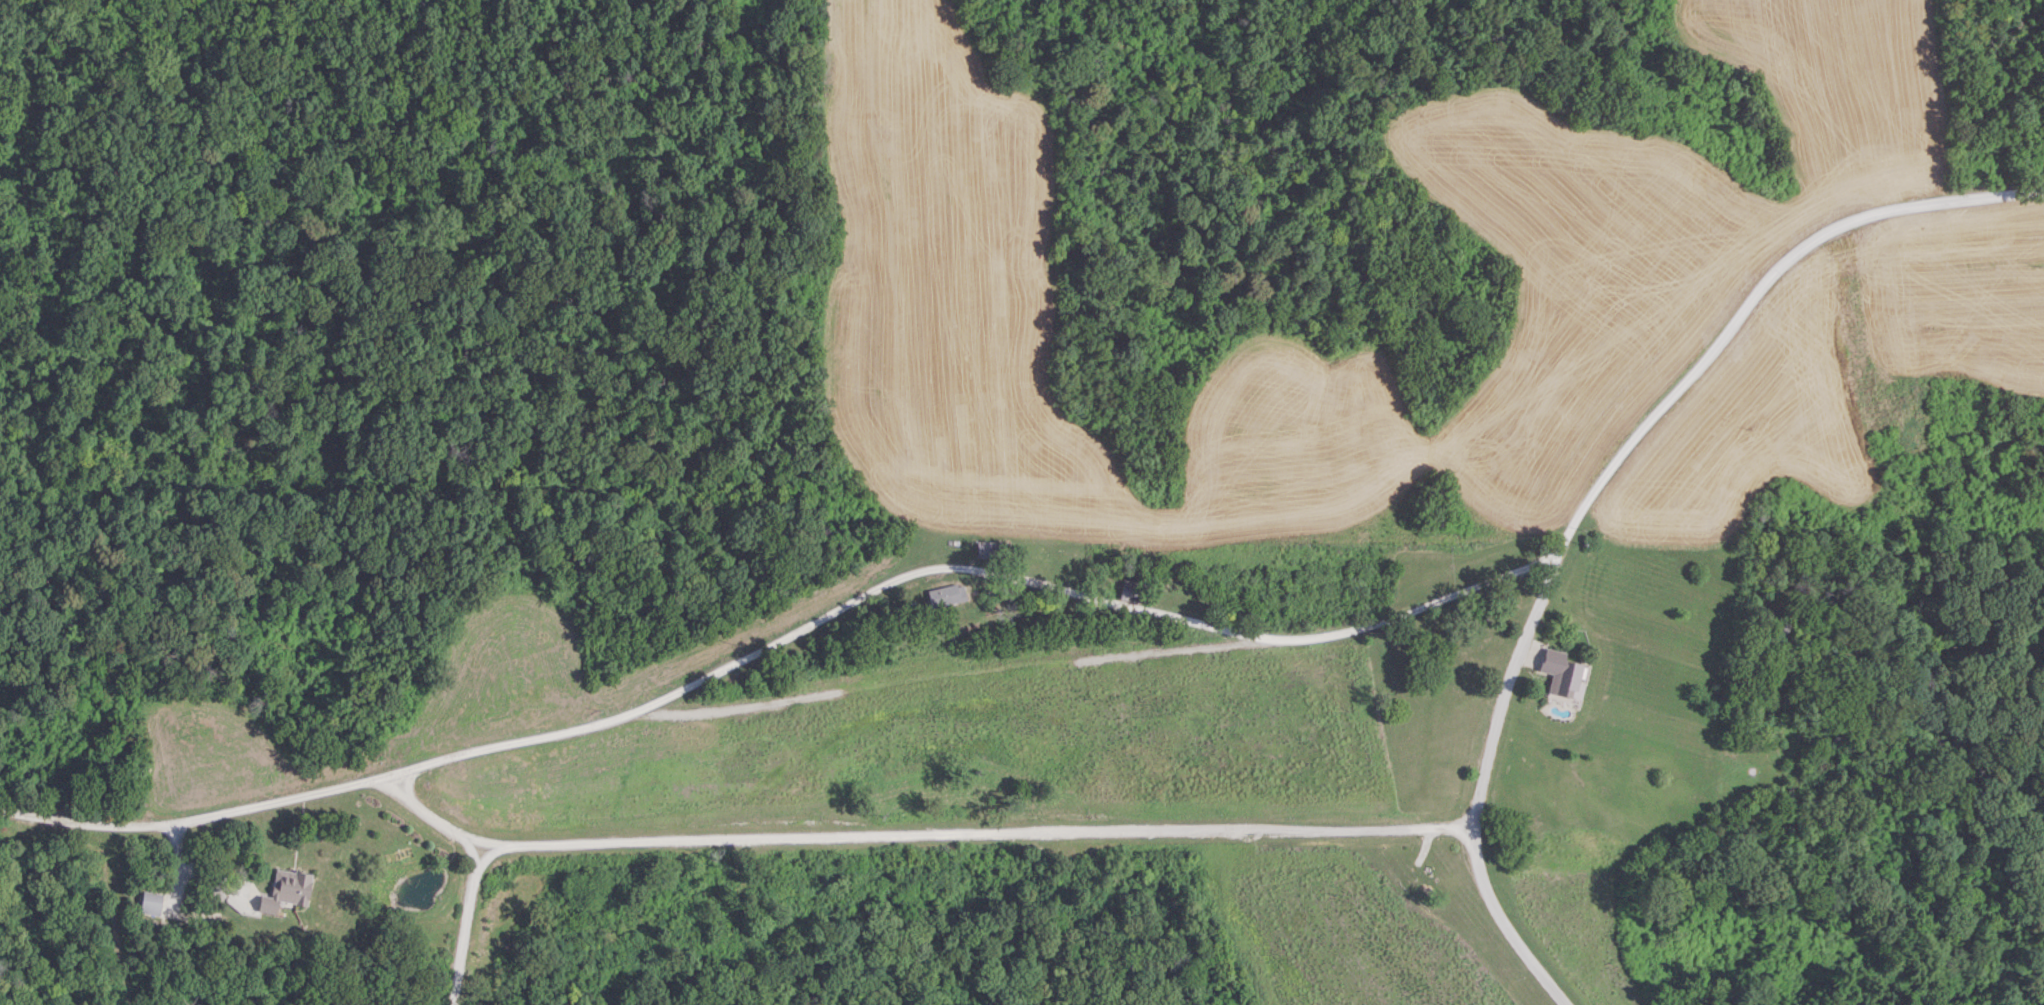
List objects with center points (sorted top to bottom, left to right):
building: (986, 550)
building: (1129, 591)
building: (945, 596)
road: (1084, 596)
building: (1774, 623)
road: (948, 668)
building: (1560, 675)
road: (1479, 787)
road: (915, 831)
road: (176, 851)
building: (282, 891)
building: (148, 903)
road: (465, 924)

